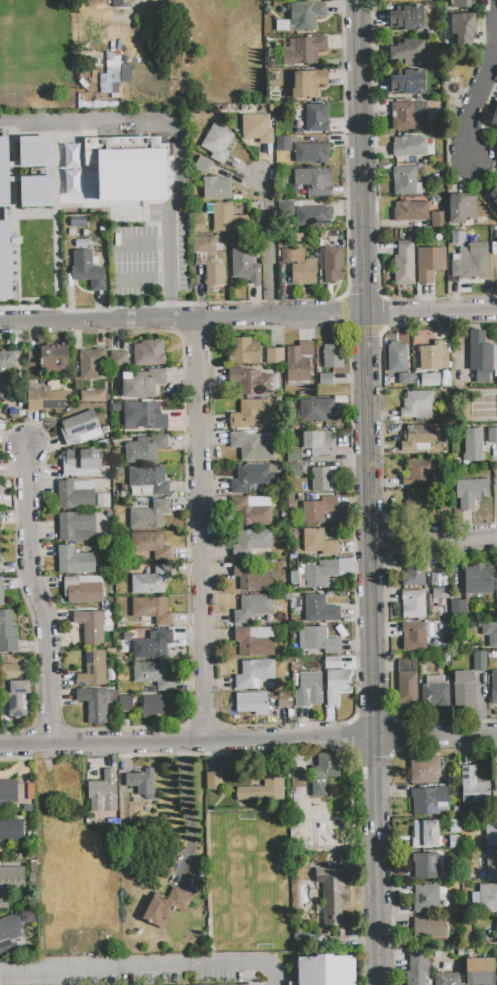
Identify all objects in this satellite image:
building: (118, 3)
building: (462, 4)
road: (496, 4)
building: (306, 15)
building: (407, 18)
building: (464, 31)
building: (303, 50)
building: (408, 53)
building: (111, 72)
building: (408, 83)
building: (308, 84)
road: (477, 104)
building: (406, 115)
building: (494, 117)
building: (316, 118)
road: (170, 124)
building: (256, 128)
building: (217, 143)
building: (283, 143)
building: (408, 149)
building: (34, 151)
building: (311, 152)
building: (202, 165)
building: (127, 167)
building: (70, 169)
building: (4, 173)
building: (313, 180)
building: (405, 182)
building: (216, 188)
building: (36, 191)
building: (493, 197)
building: (284, 208)
building: (461, 209)
building: (411, 211)
building: (222, 217)
building: (313, 217)
building: (438, 219)
building: (198, 228)
road: (140, 244)
road: (268, 245)
building: (496, 245)
building: (292, 255)
building: (5, 260)
building: (208, 261)
building: (331, 263)
building: (429, 263)
building: (471, 263)
building: (244, 264)
building: (404, 264)
building: (87, 269)
building: (305, 271)
road: (141, 280)
road: (167, 306)
road: (248, 317)
building: (243, 350)
building: (148, 354)
building: (274, 356)
building: (333, 356)
building: (435, 356)
building: (480, 356)
building: (49, 357)
building: (397, 357)
building: (119, 360)
building: (298, 362)
building: (90, 363)
building: (3, 375)
building: (404, 378)
building: (326, 379)
building: (429, 380)
building: (255, 383)
building: (143, 384)
building: (92, 396)
building: (46, 400)
building: (417, 405)
building: (314, 410)
building: (251, 413)
building: (143, 416)
building: (80, 429)
building: (492, 435)
building: (417, 438)
building: (318, 443)
building: (473, 445)
building: (252, 446)
building: (145, 449)
building: (293, 460)
building: (80, 462)
building: (419, 473)
building: (254, 477)
building: (324, 479)
building: (149, 480)
building: (471, 488)
road: (368, 492)
building: (75, 495)
building: (415, 498)
building: (103, 500)
building: (318, 509)
building: (250, 513)
building: (149, 515)
building: (123, 524)
building: (77, 526)
road: (202, 530)
road: (433, 541)
building: (251, 542)
building: (318, 543)
building: (150, 545)
building: (74, 561)
building: (412, 571)
building: (496, 571)
building: (315, 574)
building: (251, 578)
building: (435, 578)
building: (152, 580)
building: (479, 580)
building: (82, 589)
building: (1, 592)
building: (440, 594)
road: (38, 597)
building: (413, 604)
building: (253, 607)
building: (458, 608)
building: (319, 609)
building: (152, 610)
building: (90, 627)
building: (490, 632)
building: (7, 634)
building: (120, 634)
building: (414, 636)
building: (321, 640)
building: (255, 641)
building: (153, 645)
building: (445, 658)
building: (480, 661)
building: (332, 663)
building: (93, 670)
building: (254, 673)
building: (153, 675)
building: (406, 683)
building: (335, 685)
building: (494, 687)
building: (308, 689)
building: (464, 689)
building: (13, 690)
building: (435, 692)
building: (285, 700)
building: (125, 703)
building: (251, 703)
building: (93, 705)
building: (158, 706)
road: (248, 741)
building: (423, 770)
building: (324, 773)
building: (495, 777)
building: (72, 780)
building: (298, 780)
building: (214, 781)
building: (142, 784)
building: (473, 786)
building: (8, 791)
building: (263, 791)
building: (103, 792)
building: (295, 798)
building: (430, 801)
building: (455, 826)
building: (11, 830)
building: (490, 832)
building: (425, 834)
building: (454, 842)
building: (491, 864)
building: (425, 866)
building: (11, 878)
building: (467, 878)
park: (249, 881)
building: (475, 897)
building: (487, 897)
building: (426, 899)
building: (331, 902)
building: (166, 907)
building: (29, 916)
building: (429, 927)
building: (10, 928)
building: (496, 932)
road: (145, 967)
building: (416, 969)
building: (325, 970)
building: (480, 971)
building: (496, 972)
building: (448, 979)
building: (252, 984)

